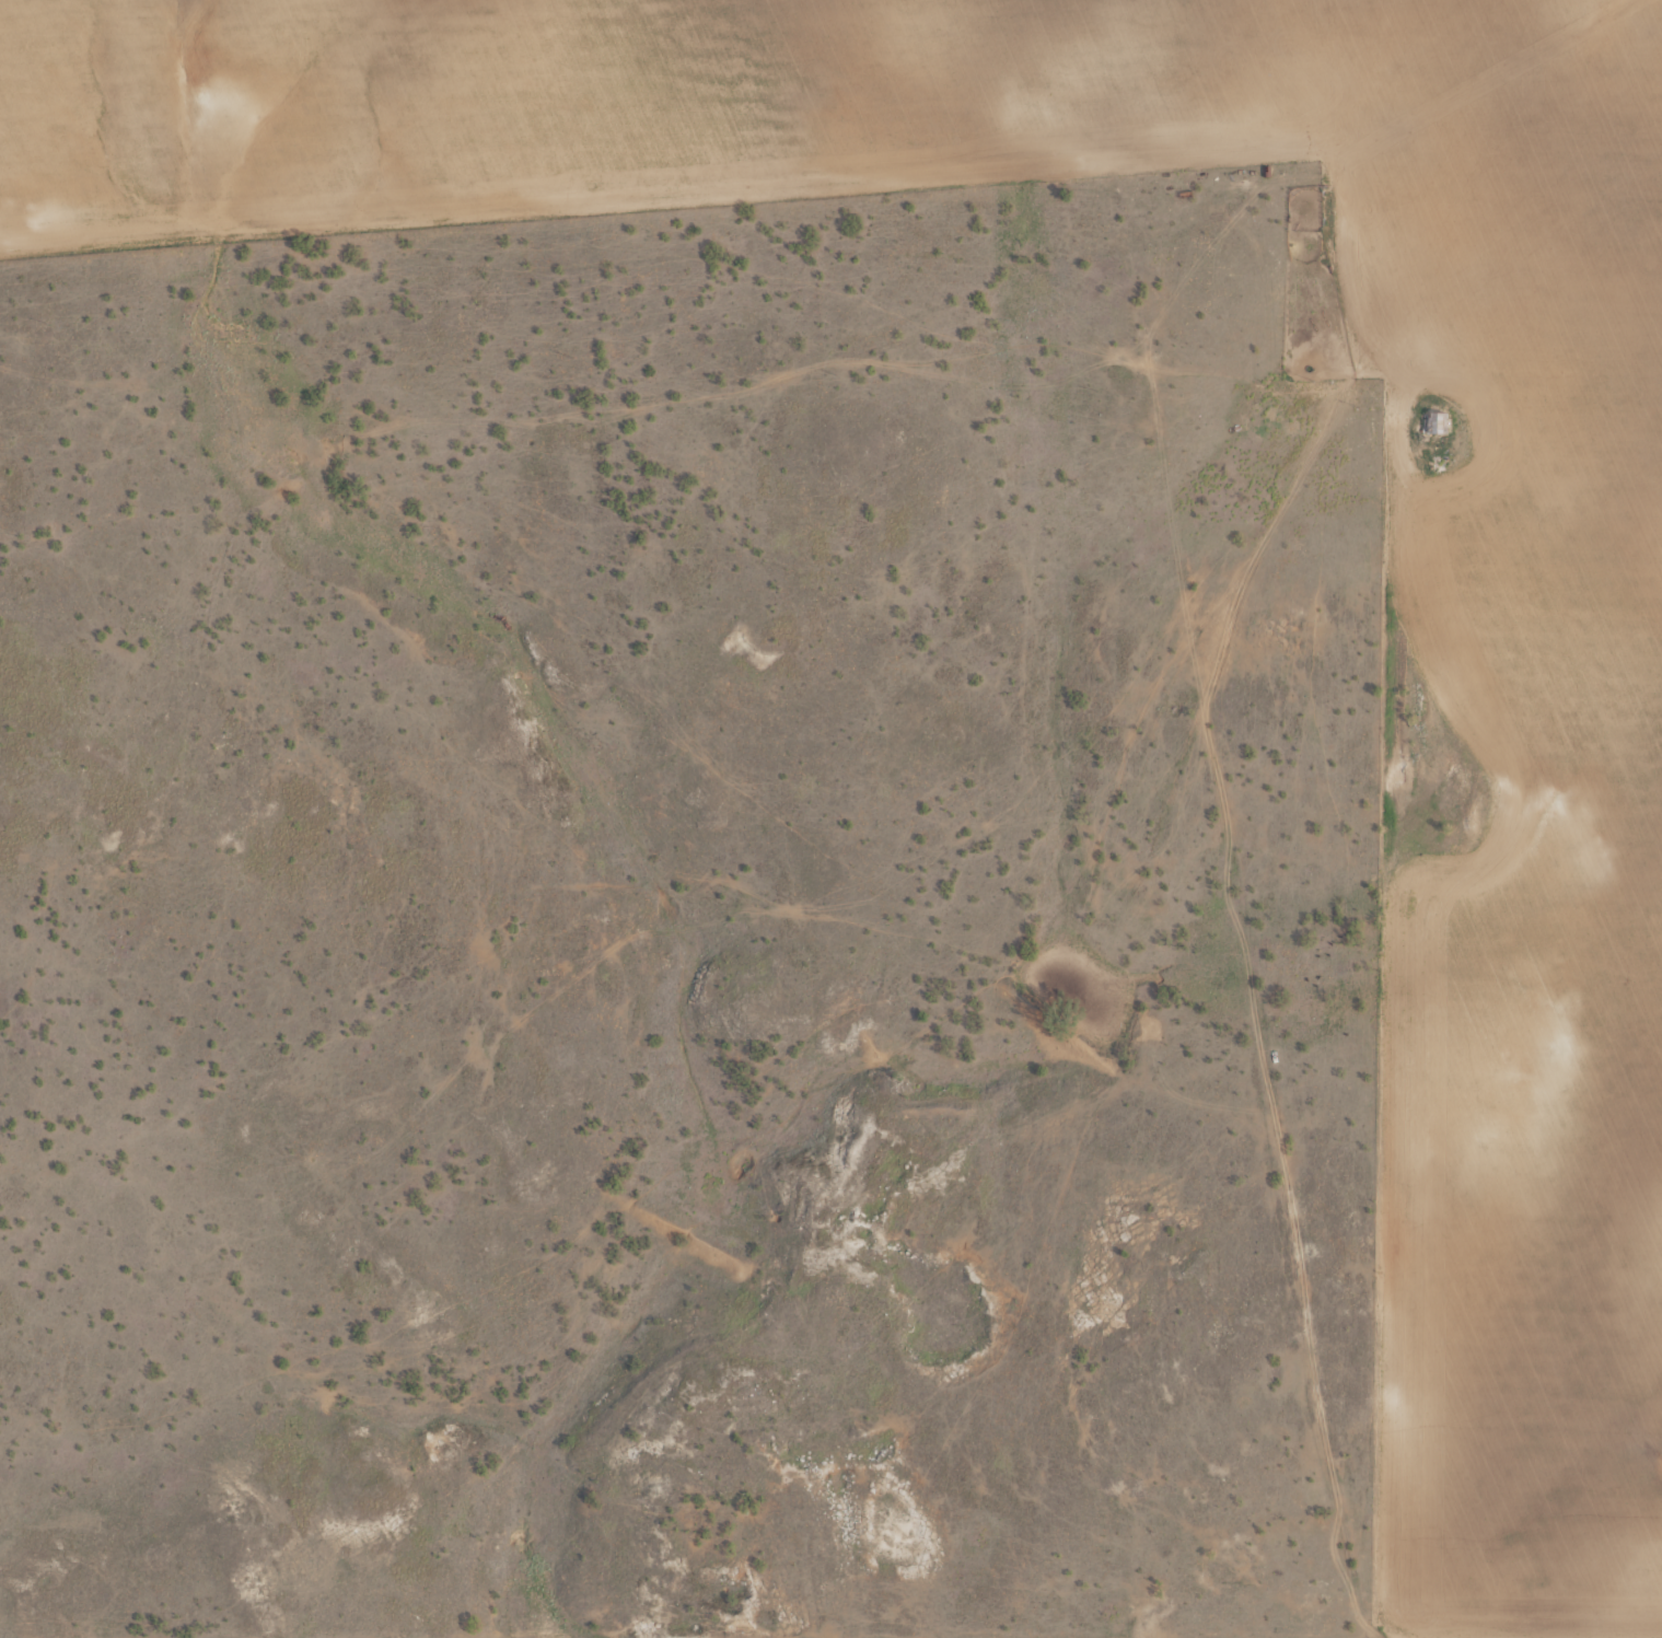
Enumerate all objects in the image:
building: (1433, 425)
road: (1410, 948)

